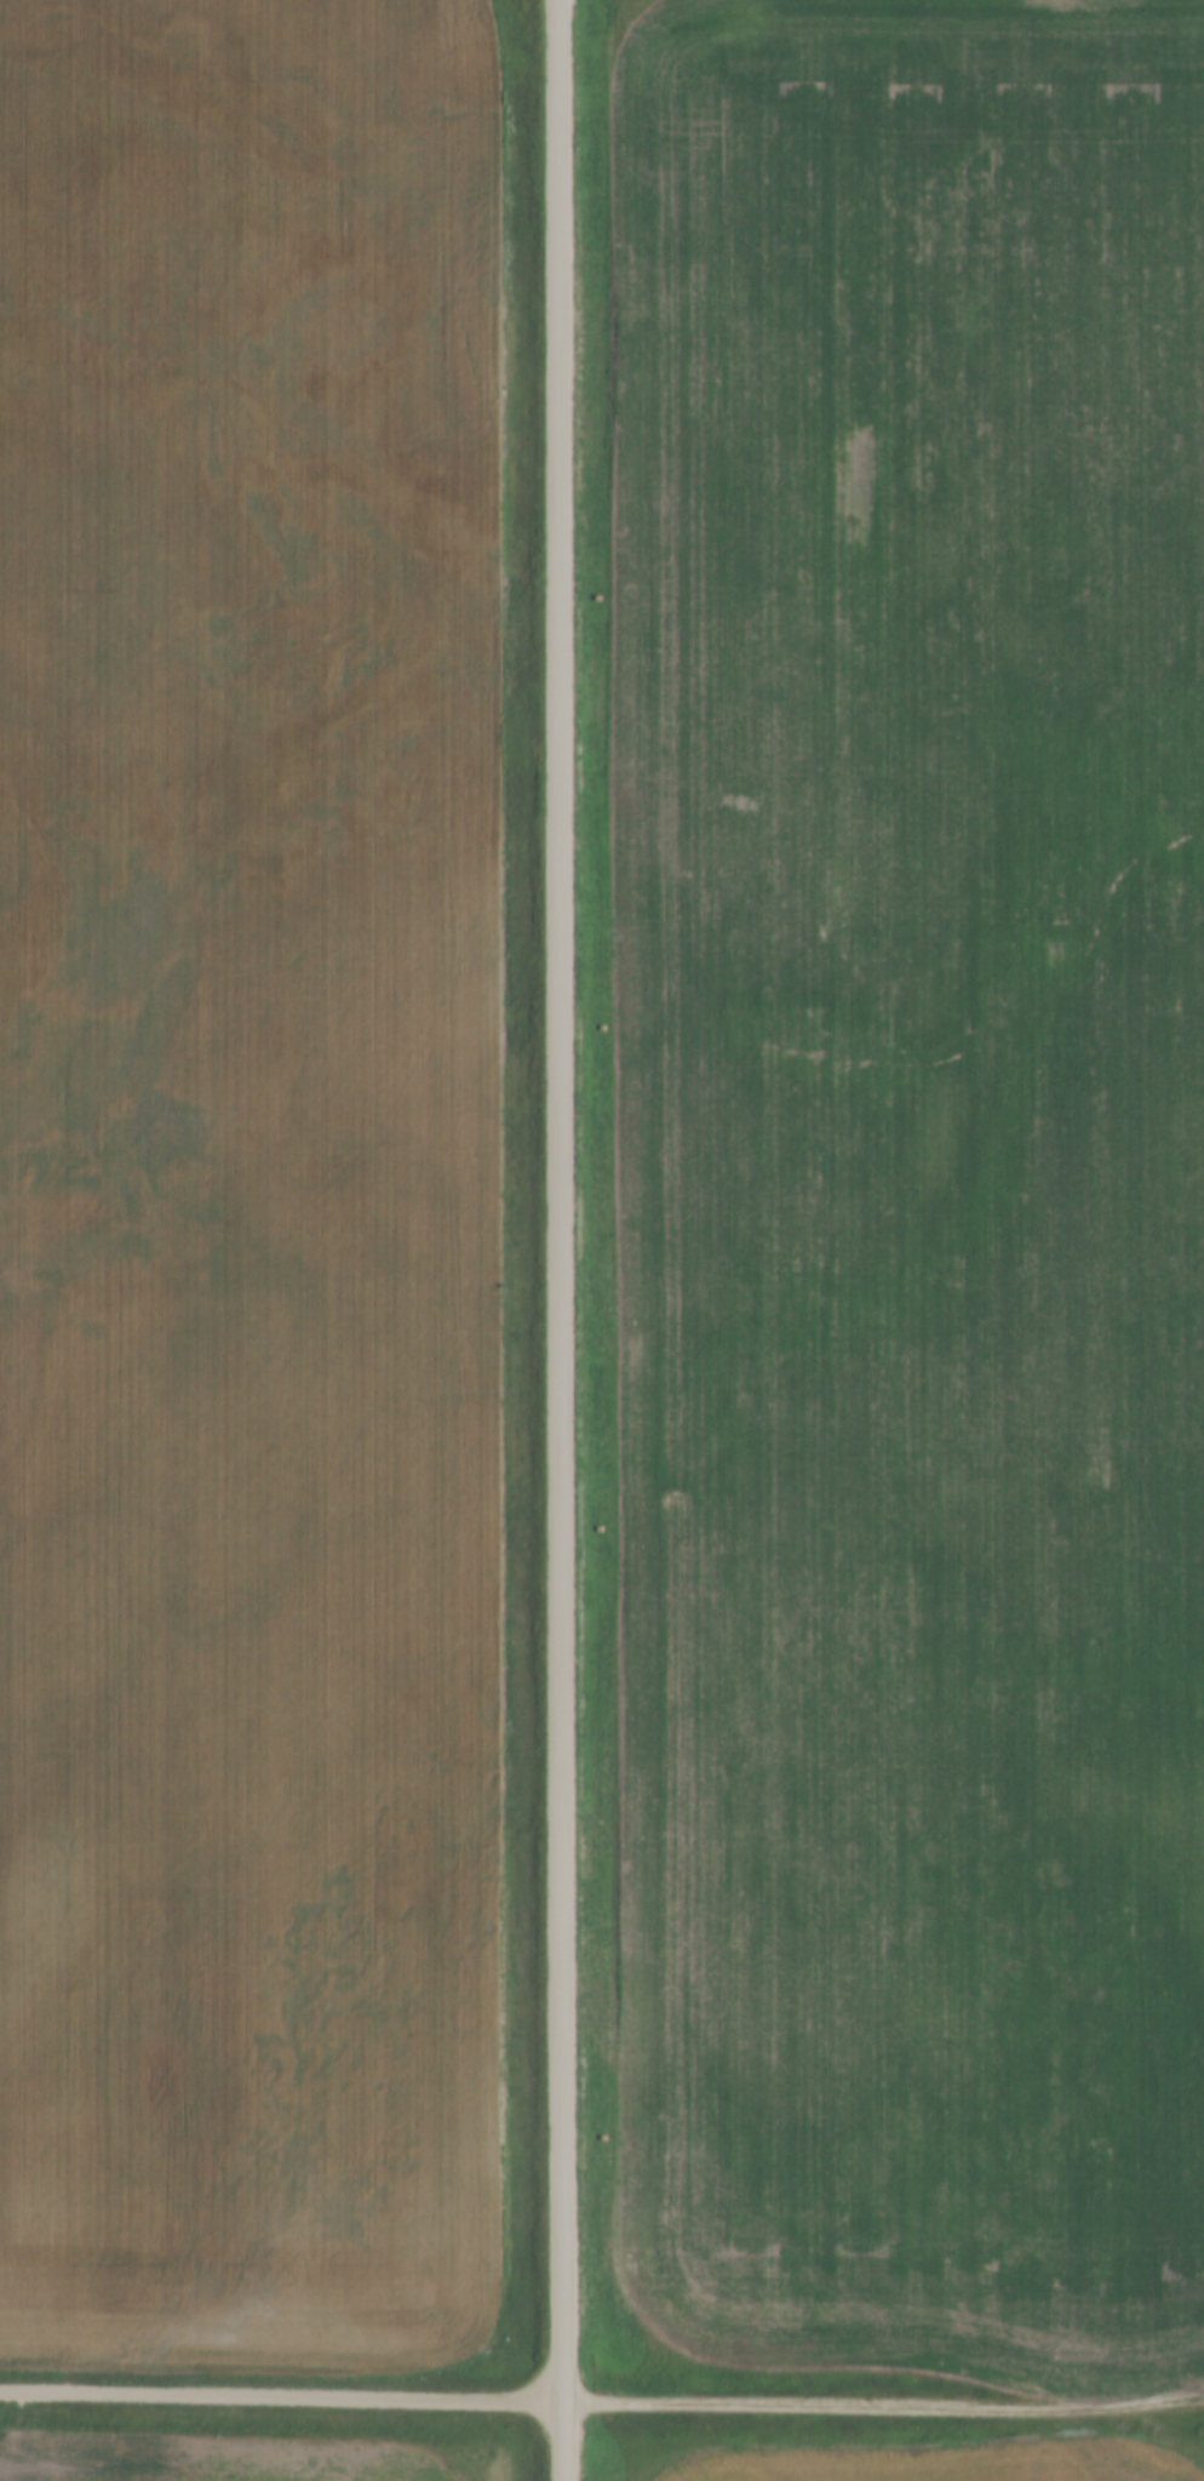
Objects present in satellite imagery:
road: (562, 1201)
road: (601, 2402)
road: (567, 2442)

